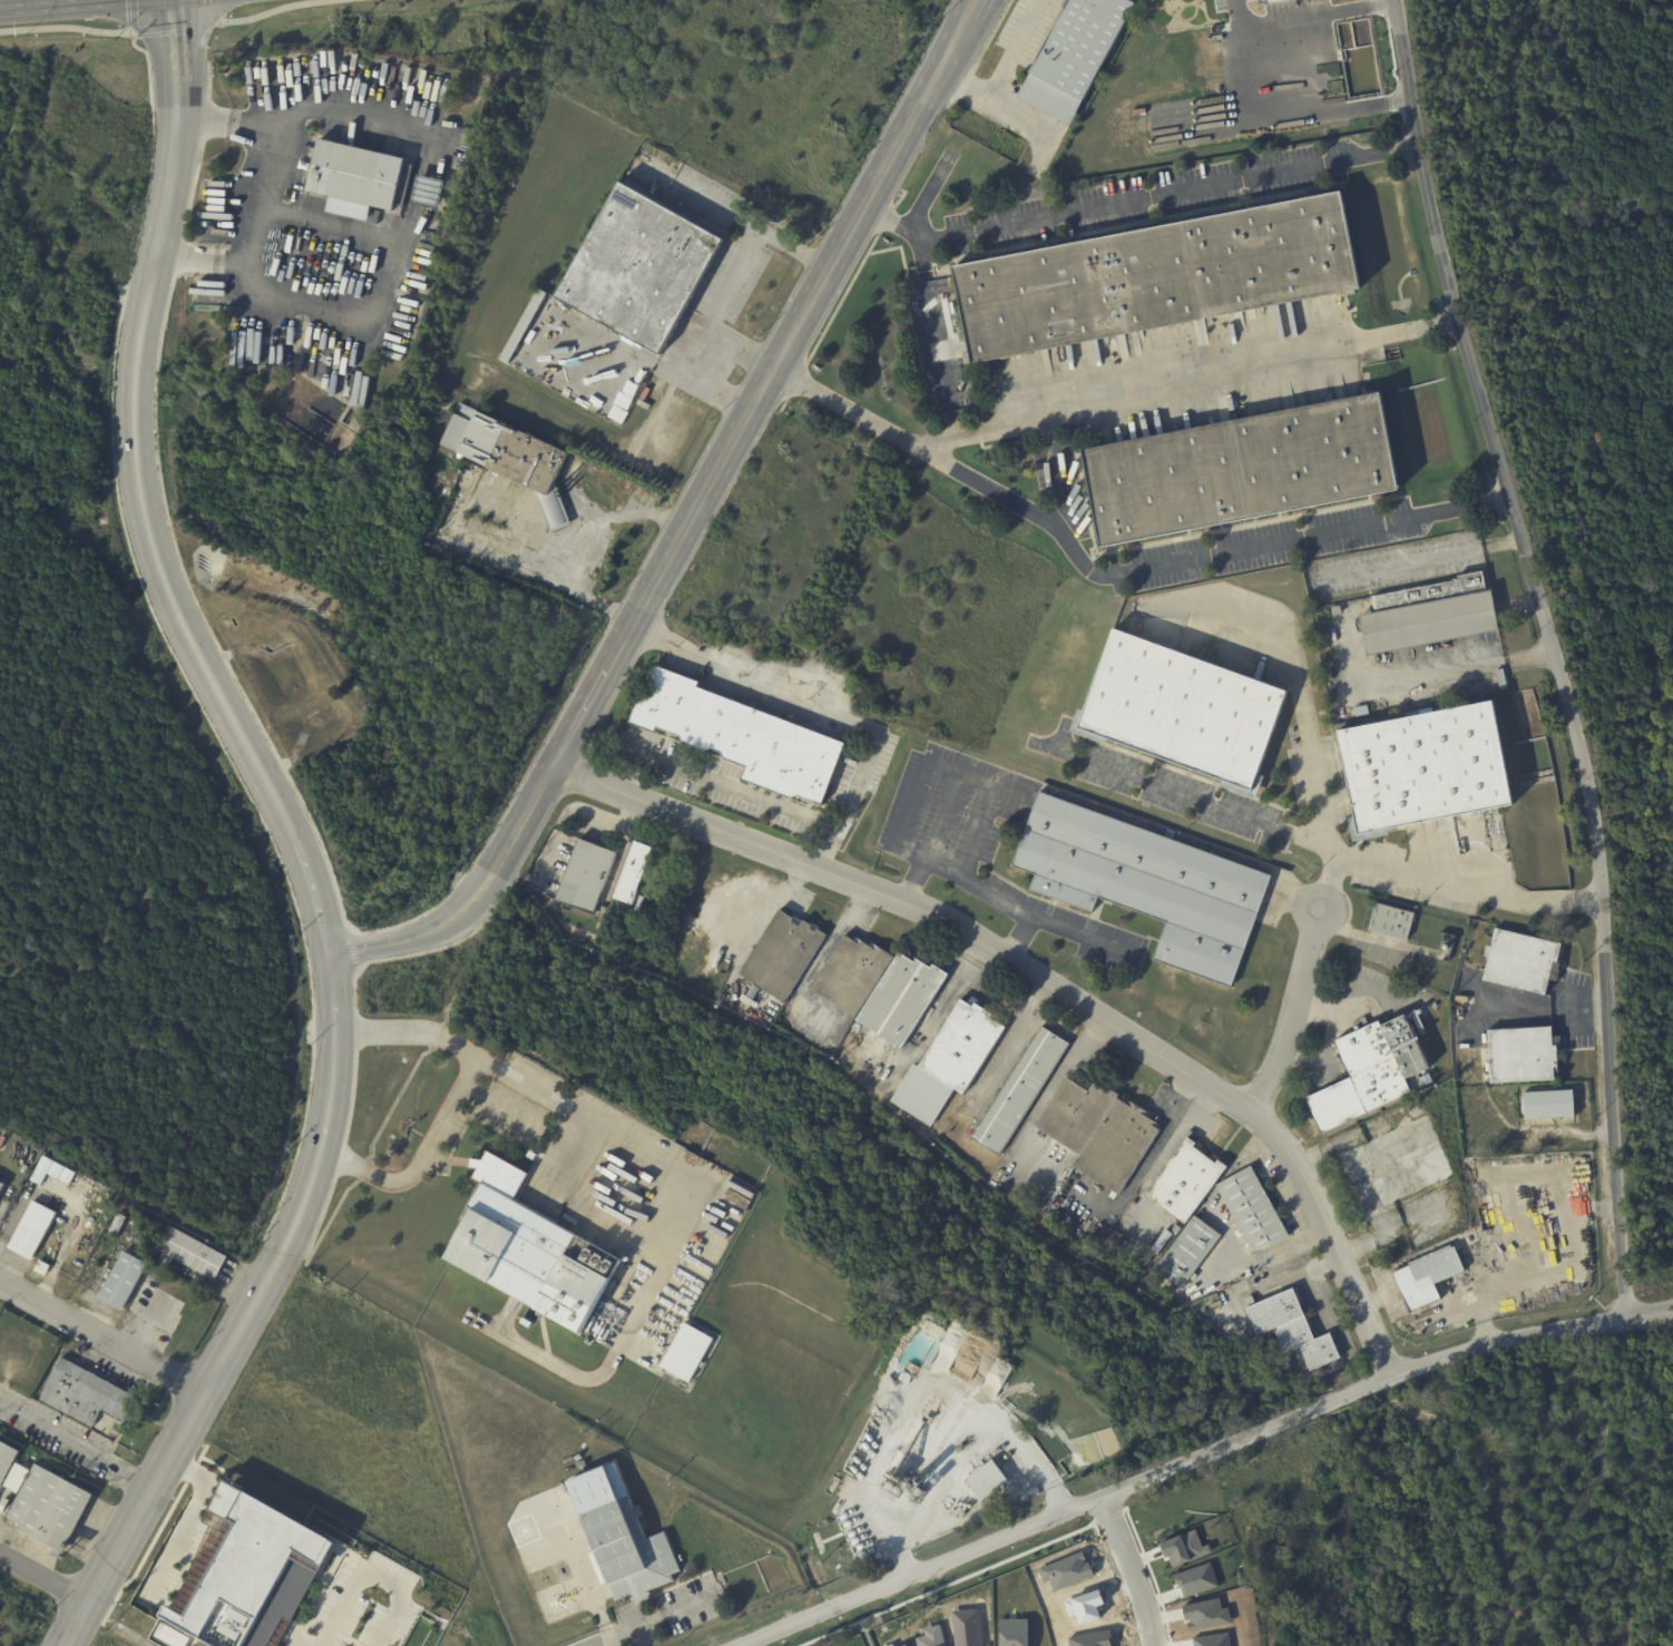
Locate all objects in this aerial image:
road: (17, 1)
road: (960, 13)
road: (969, 13)
road: (1321, 19)
road: (159, 29)
building: (1075, 56)
road: (1006, 72)
road: (1289, 106)
road: (307, 109)
building: (360, 176)
building: (431, 190)
road: (1167, 190)
road: (255, 209)
road: (323, 218)
road: (200, 256)
building: (642, 268)
building: (1160, 277)
road: (722, 300)
road: (346, 319)
road: (932, 320)
building: (524, 326)
road: (742, 347)
building: (525, 363)
road: (1200, 365)
road: (1419, 383)
building: (513, 458)
building: (1240, 471)
road: (139, 491)
road: (683, 535)
building: (440, 540)
parking lot: (1261, 545)
road: (596, 548)
road: (518, 566)
road: (1112, 574)
building: (1431, 616)
road: (1550, 651)
road: (1450, 669)
building: (1182, 712)
road: (822, 713)
building: (744, 737)
road: (948, 770)
building: (1426, 770)
road: (715, 783)
road: (1178, 793)
parking lot: (1181, 795)
road: (1321, 830)
building: (633, 872)
building: (586, 876)
road: (1325, 880)
building: (1146, 883)
road: (977, 885)
building: (1391, 922)
building: (783, 954)
building: (1523, 962)
building: (853, 974)
road: (1046, 986)
building: (755, 992)
building: (721, 999)
building: (904, 1000)
building: (1461, 1000)
building: (717, 1007)
road: (1542, 1007)
road: (1286, 1016)
building: (1520, 1056)
building: (950, 1061)
building: (1371, 1074)
building: (1420, 1081)
road: (535, 1088)
building: (1020, 1091)
road: (451, 1093)
building: (1549, 1106)
building: (1078, 1114)
building: (3, 1143)
building: (1119, 1146)
road: (1256, 1146)
building: (532, 1156)
building: (25, 1169)
building: (41, 1170)
building: (57, 1172)
building: (67, 1177)
building: (1186, 1182)
building: (1, 1188)
building: (102, 1196)
road: (1589, 1204)
building: (1253, 1212)
building: (117, 1225)
building: (33, 1232)
building: (524, 1250)
building: (1190, 1251)
building: (190, 1255)
road: (1256, 1261)
building: (1423, 1277)
building: (124, 1283)
road: (246, 1311)
road: (1650, 1311)
road: (1650, 1315)
road: (1480, 1321)
building: (527, 1323)
building: (1292, 1326)
road: (101, 1336)
building: (687, 1353)
building: (86, 1395)
road: (77, 1441)
road: (968, 1454)
building: (123, 1459)
building: (7, 1462)
building: (1632, 1462)
road: (1176, 1463)
building: (25, 1476)
building: (989, 1481)
building: (844, 1501)
building: (949, 1506)
building: (51, 1509)
road: (1111, 1515)
building: (619, 1535)
helipad: (532, 1544)
airport apron: (558, 1551)
road: (1008, 1558)
road: (1134, 1568)
helipad: (564, 1569)
road: (1154, 1576)
building: (246, 1577)
road: (372, 1581)
road: (42, 1583)
helipad: (557, 1601)
road: (865, 1633)

